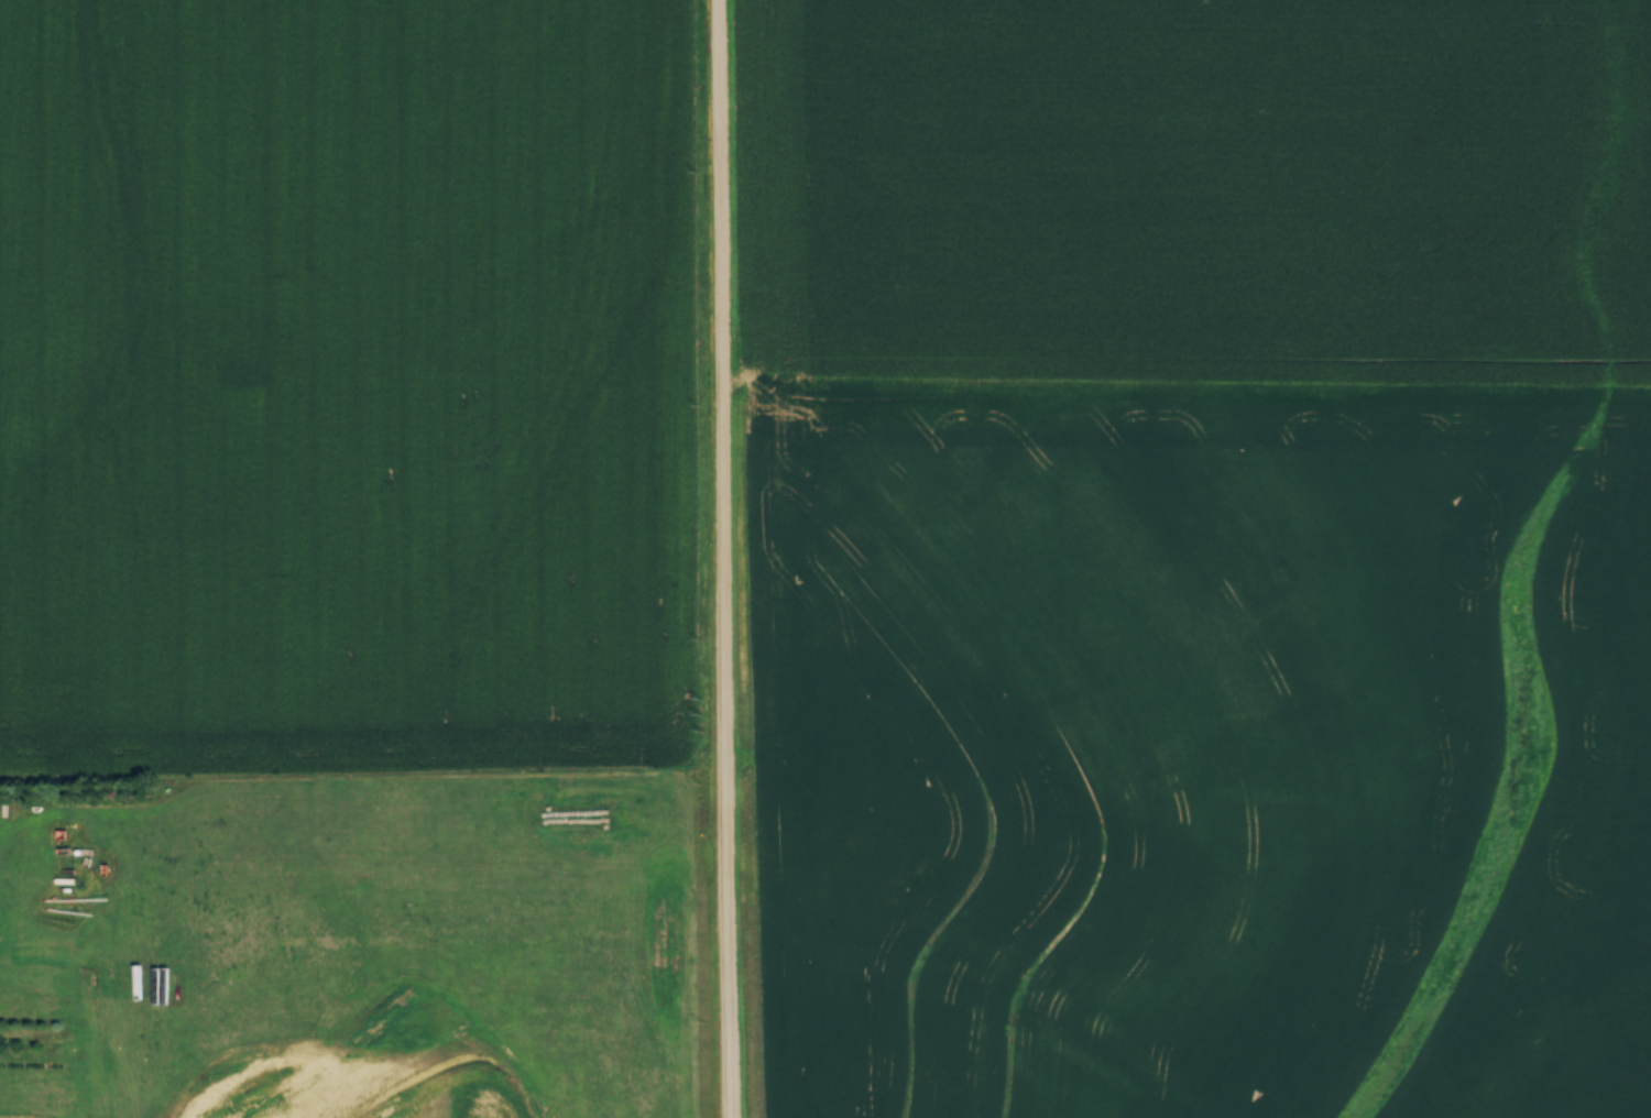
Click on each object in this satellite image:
road: (717, 559)

